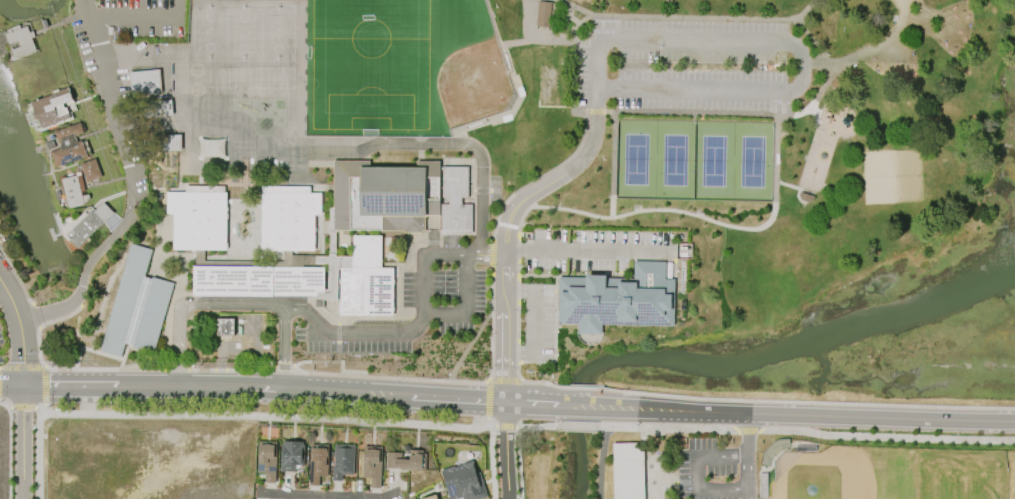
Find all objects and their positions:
road: (81, 3)
road: (85, 3)
road: (906, 11)
building: (543, 13)
road: (699, 16)
road: (791, 16)
road: (144, 20)
road: (906, 22)
parking lot: (125, 23)
road: (617, 28)
road: (527, 34)
building: (22, 41)
road: (550, 42)
road: (586, 42)
road: (794, 46)
road: (829, 60)
parking lot: (691, 64)
park: (401, 66)
road: (573, 68)
building: (145, 82)
building: (53, 108)
road: (596, 112)
road: (743, 112)
park: (692, 121)
building: (69, 145)
building: (212, 148)
road: (474, 151)
park: (635, 157)
park: (674, 158)
park: (713, 159)
park: (751, 160)
road: (818, 163)
road: (612, 164)
building: (90, 170)
road: (538, 175)
road: (130, 190)
building: (74, 193)
building: (384, 194)
building: (455, 200)
road: (571, 211)
building: (288, 217)
building: (198, 219)
road: (520, 219)
building: (89, 225)
road: (507, 225)
road: (743, 226)
parking lot: (594, 248)
road: (517, 249)
road: (587, 249)
road: (486, 252)
road: (491, 253)
road: (518, 277)
building: (257, 279)
building: (366, 279)
road: (518, 291)
building: (617, 298)
road: (11, 300)
road: (78, 302)
building: (136, 305)
road: (194, 306)
parking lot: (449, 310)
road: (426, 314)
parking lot: (538, 320)
road: (536, 321)
road: (518, 322)
road: (39, 326)
building: (226, 327)
road: (354, 331)
parking lot: (1, 338)
road: (554, 343)
road: (468, 344)
road: (284, 348)
road: (22, 352)
road: (518, 352)
parking lot: (1, 357)
road: (284, 366)
road: (23, 368)
road: (107, 370)
road: (177, 370)
road: (232, 370)
road: (445, 378)
road: (488, 378)
road: (487, 379)
road: (504, 379)
road: (11, 384)
traffic signals: (23, 385)
road: (0, 386)
road: (47, 387)
road: (580, 387)
road: (292, 389)
road: (488, 398)
road: (804, 399)
road: (578, 406)
road: (25, 408)
road: (45, 409)
road: (40, 410)
road: (804, 415)
road: (269, 420)
road: (487, 420)
road: (505, 425)
road: (535, 425)
road: (578, 425)
road: (669, 427)
road: (749, 429)
road: (746, 432)
road: (887, 434)
road: (22, 442)
road: (12, 446)
road: (504, 451)
road: (40, 455)
building: (291, 455)
building: (266, 460)
building: (408, 460)
building: (343, 461)
road: (492, 462)
road: (519, 462)
road: (602, 462)
building: (317, 465)
building: (374, 465)
road: (696, 469)
building: (628, 470)
parking lot: (715, 470)
park: (890, 472)
road: (746, 475)
building: (465, 482)
road: (306, 494)
road: (375, 497)
building: (434, 497)

